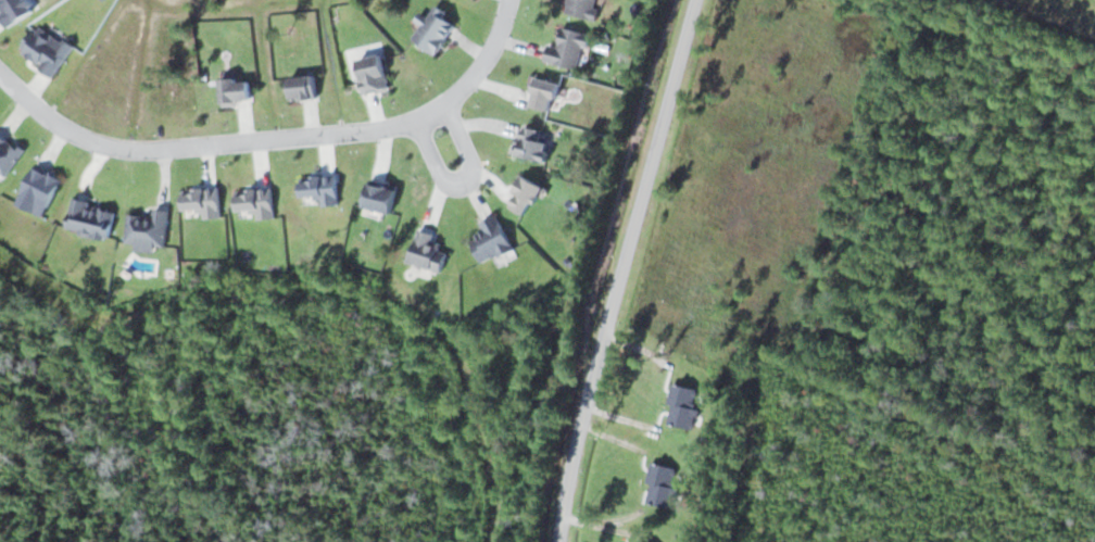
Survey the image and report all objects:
building: (582, 9)
building: (433, 29)
building: (45, 49)
building: (567, 49)
building: (372, 73)
building: (301, 87)
building: (234, 90)
building: (542, 93)
building: (0, 137)
road: (275, 139)
building: (530, 143)
building: (7, 156)
road: (464, 180)
building: (37, 191)
building: (379, 196)
building: (89, 218)
building: (146, 229)
building: (490, 240)
building: (427, 251)
road: (620, 269)
building: (682, 406)
building: (660, 484)
building: (639, 541)

